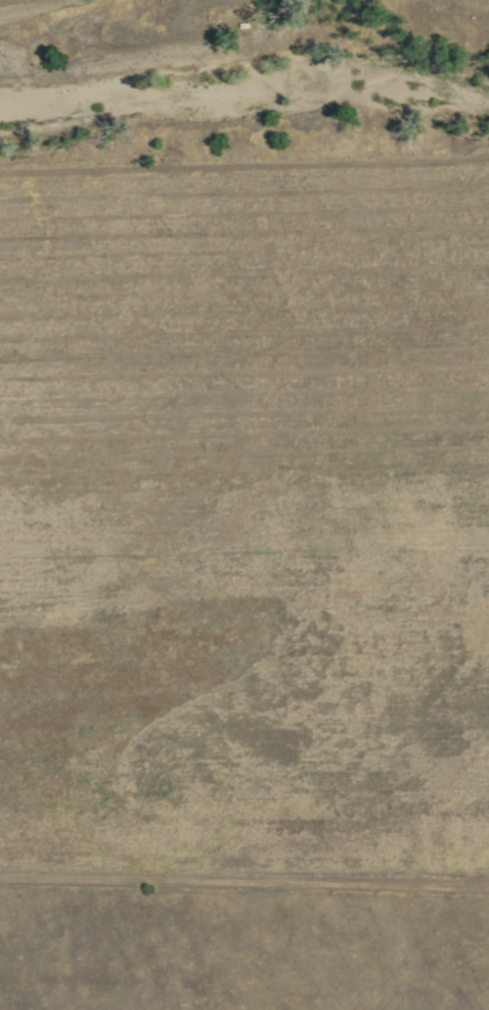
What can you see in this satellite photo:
road: (41, 7)
river: (244, 88)
crop: (244, 356)
crop: (247, 721)
road: (244, 883)

